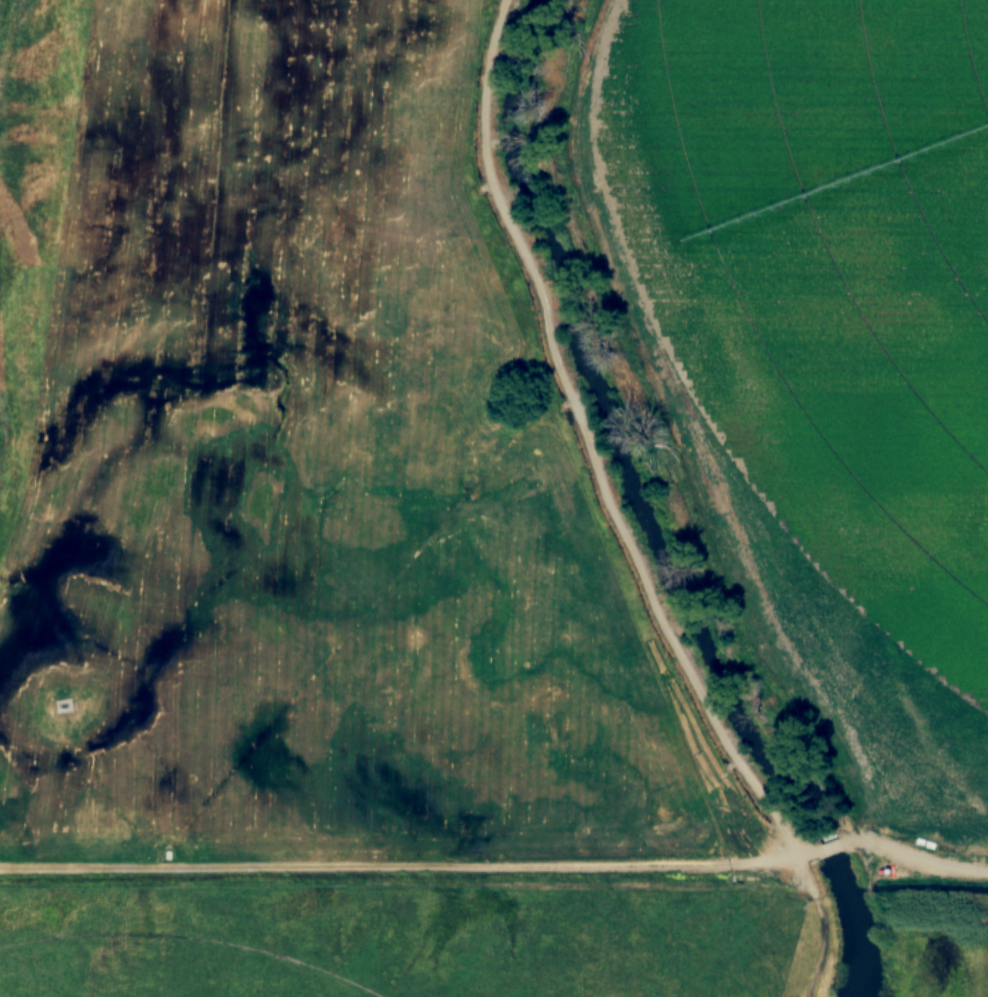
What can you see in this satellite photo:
river: (642, 512)
building: (823, 828)

